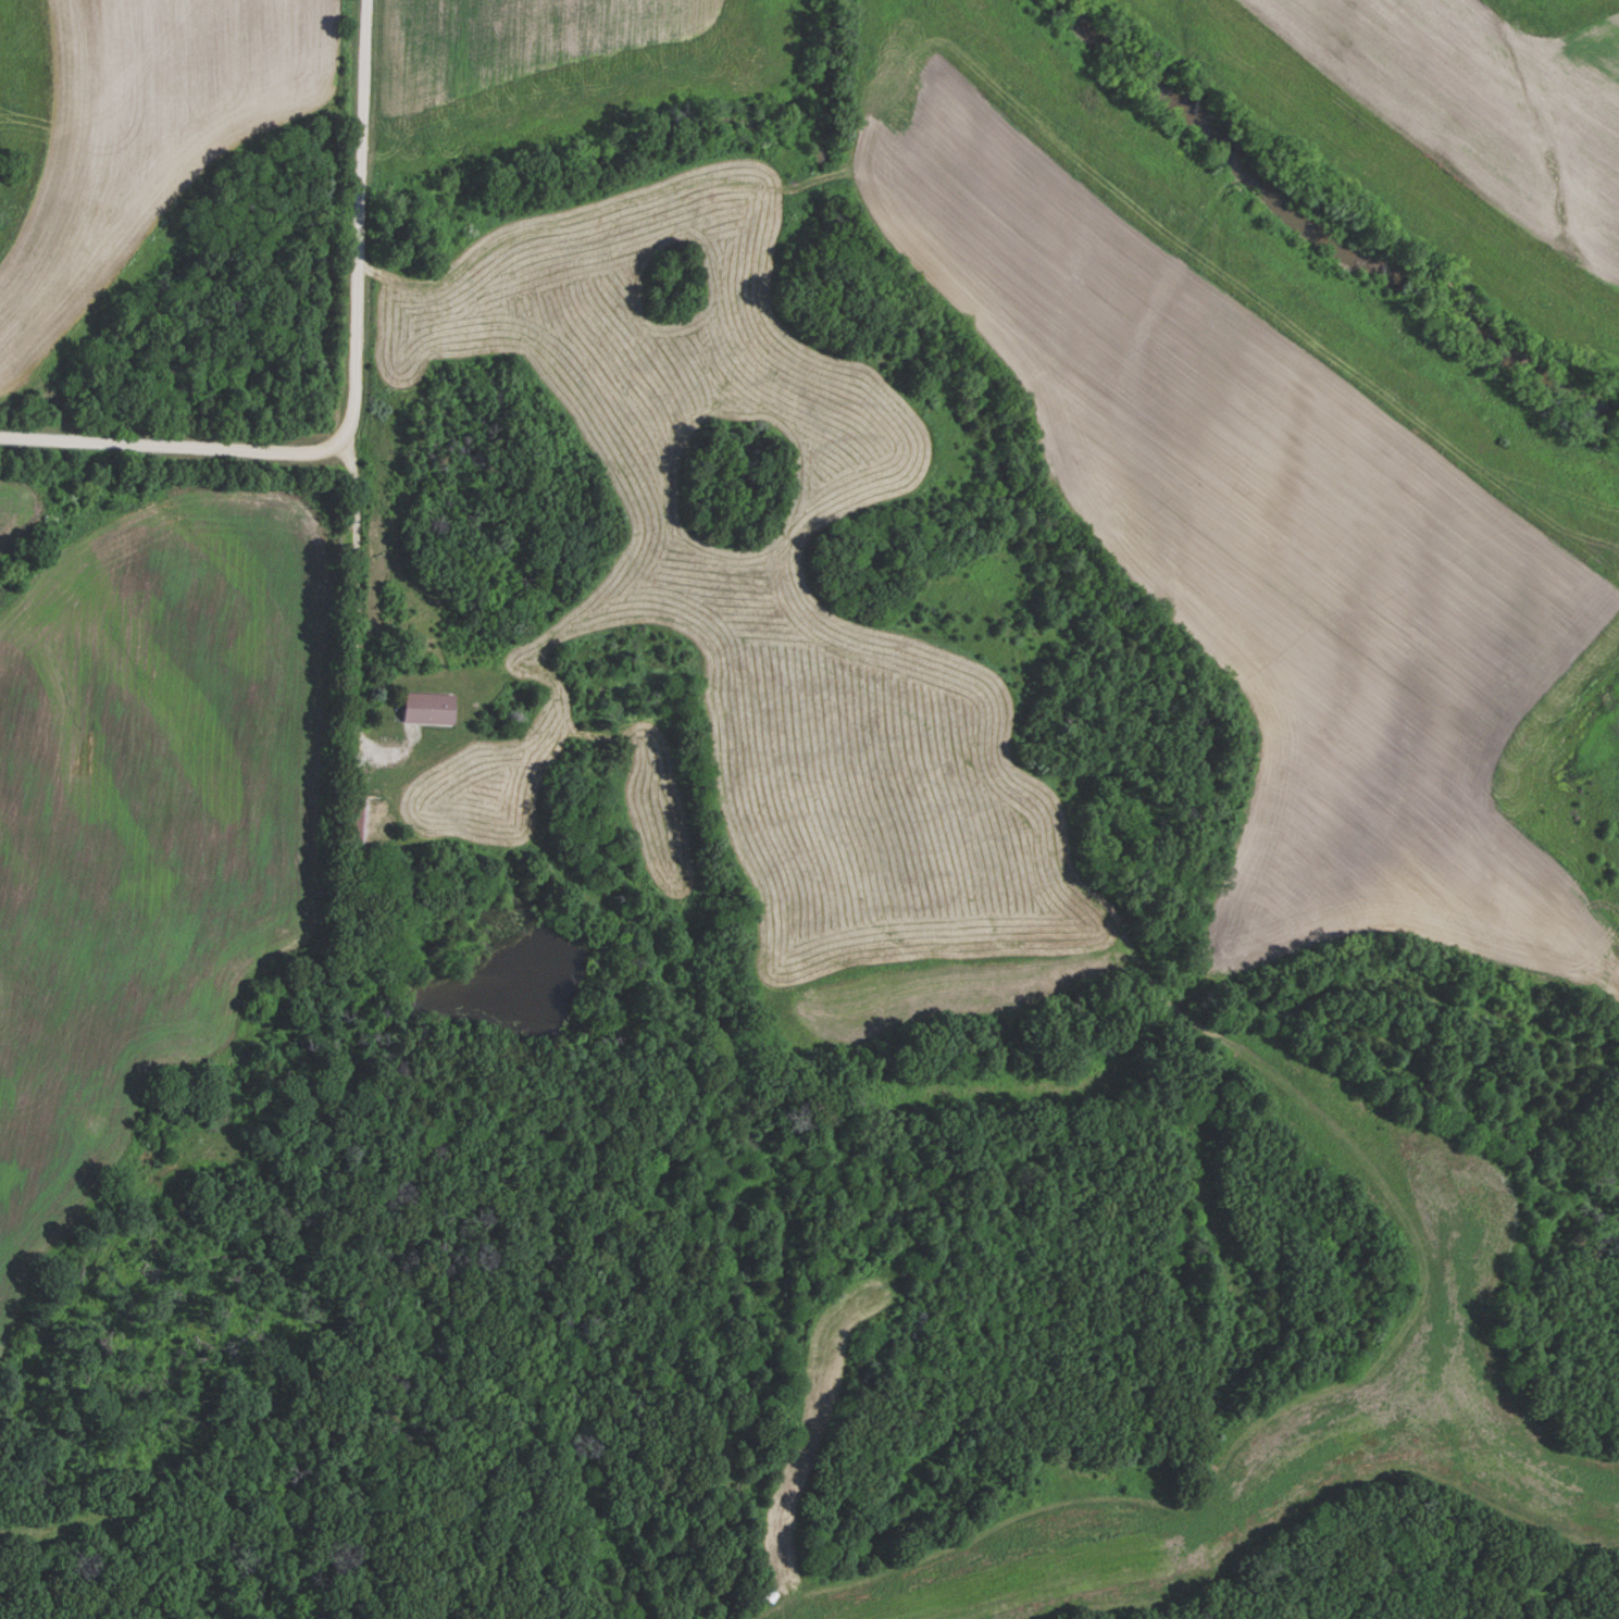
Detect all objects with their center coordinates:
road: (356, 396)
building: (434, 707)

